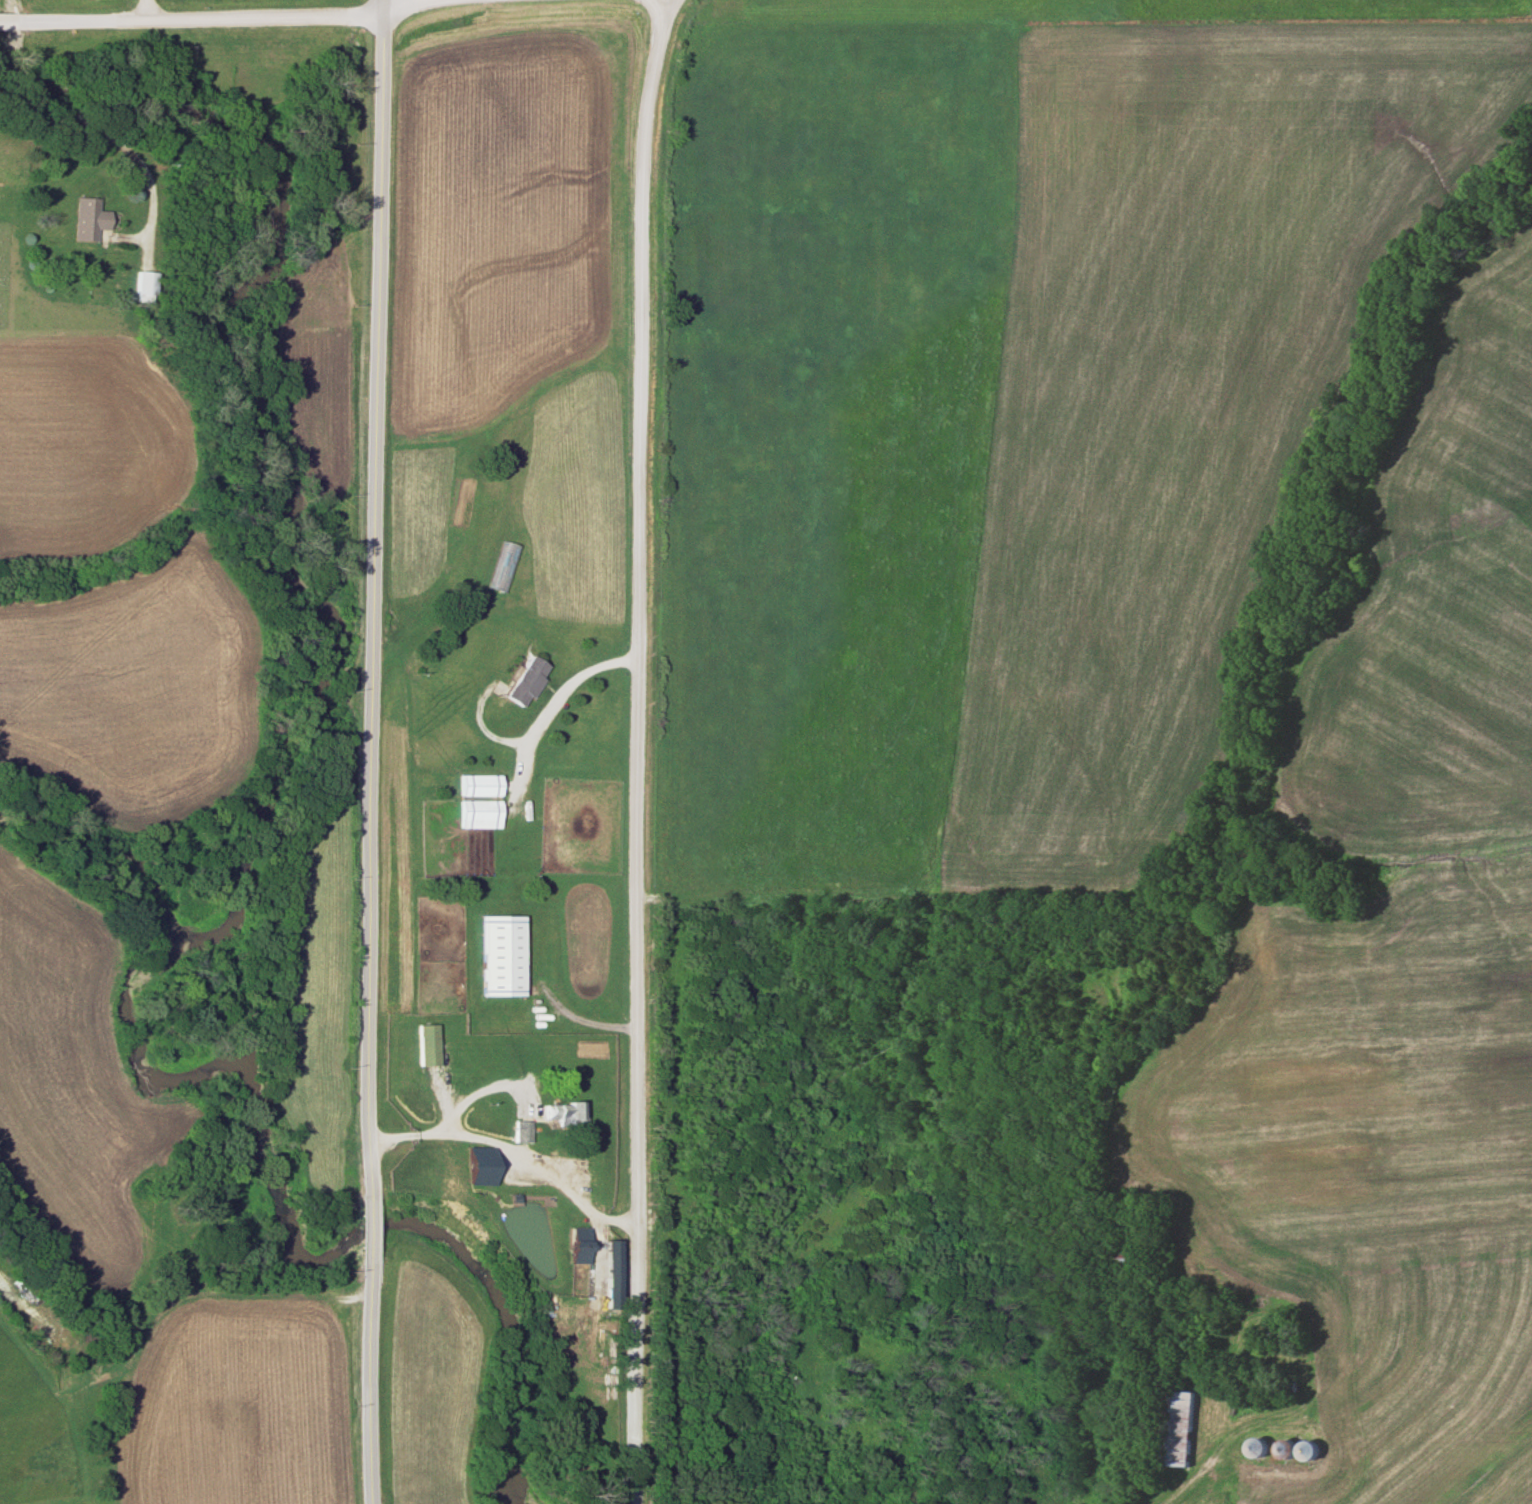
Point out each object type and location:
road: (387, 6)
road: (145, 8)
road: (191, 15)
road: (2, 16)
road: (108, 139)
building: (86, 220)
building: (137, 287)
building: (505, 566)
road: (370, 598)
building: (524, 681)
road: (557, 694)
road: (640, 750)
building: (478, 785)
building: (477, 814)
river: (263, 822)
river: (103, 858)
building: (499, 954)
road: (578, 1022)
building: (424, 1044)
road: (479, 1094)
building: (563, 1111)
building: (519, 1131)
road: (505, 1156)
building: (476, 1165)
road: (359, 1231)
building: (577, 1234)
building: (1125, 1266)
building: (1282, 1332)
road: (361, 1385)
building: (1172, 1429)
building: (1253, 1449)
building: (1281, 1450)
building: (1303, 1451)

